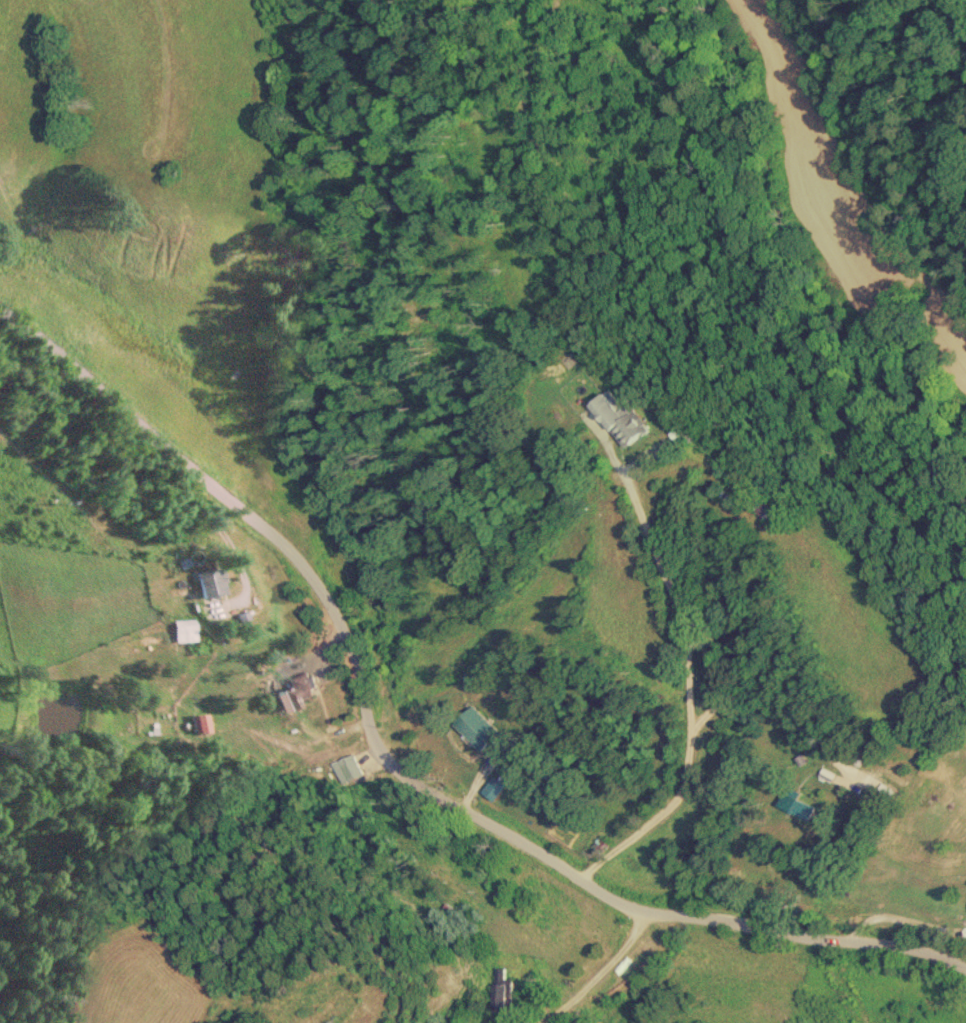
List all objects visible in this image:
road: (682, 693)
road: (402, 760)
road: (904, 920)
road: (595, 976)

